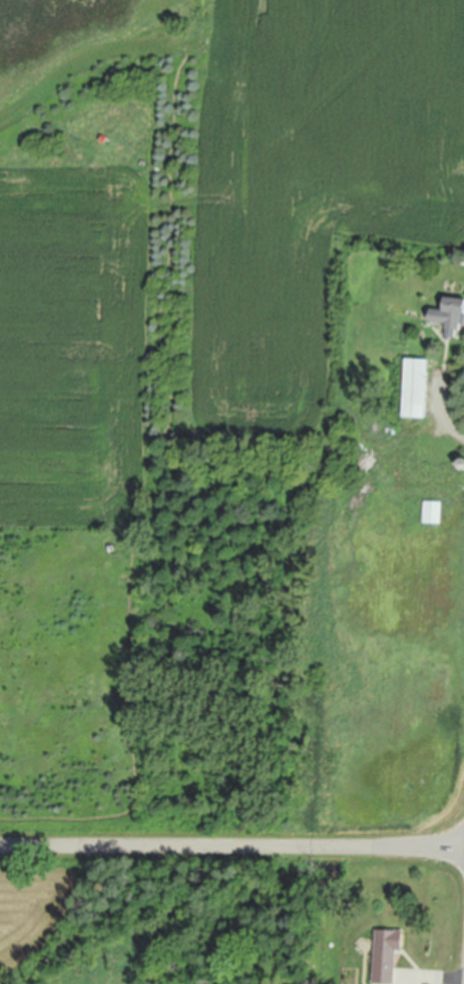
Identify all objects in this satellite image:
building: (451, 308)
building: (417, 382)
building: (376, 396)
building: (463, 463)
building: (434, 466)
building: (434, 509)
road: (232, 846)
building: (388, 951)

